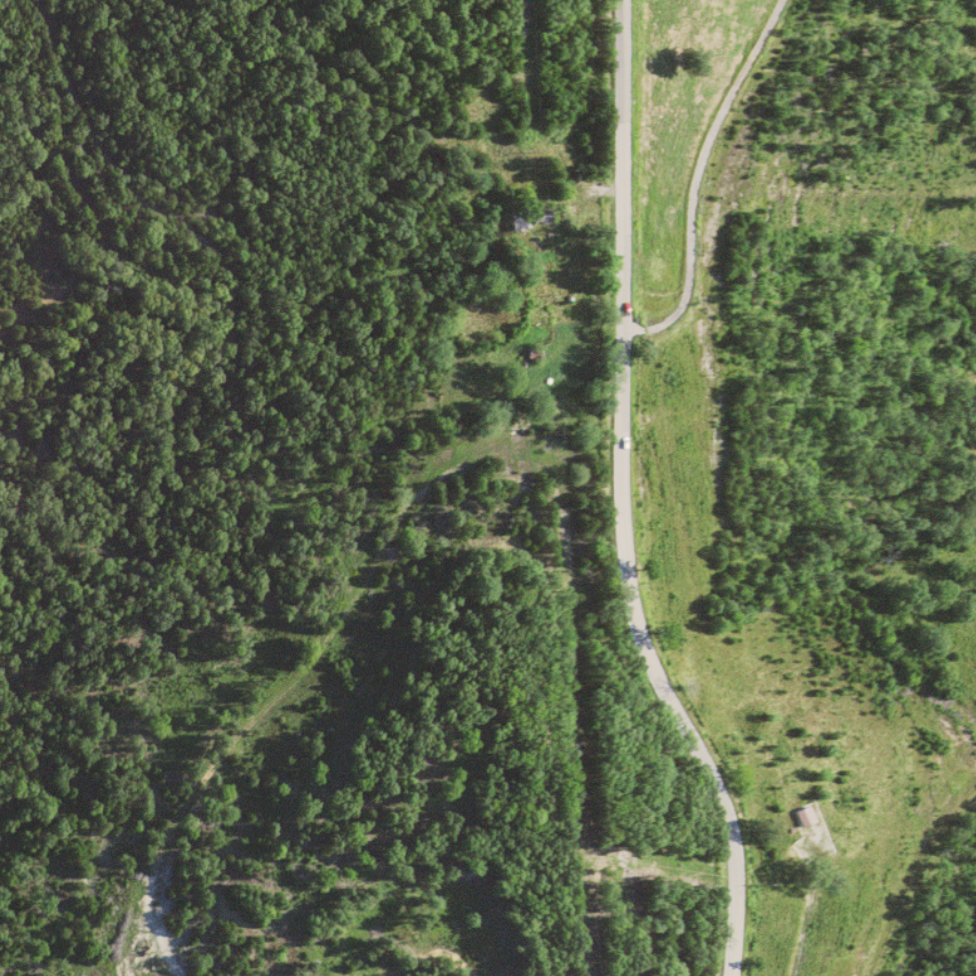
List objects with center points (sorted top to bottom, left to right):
road: (705, 182)
road: (621, 500)
building: (806, 816)

